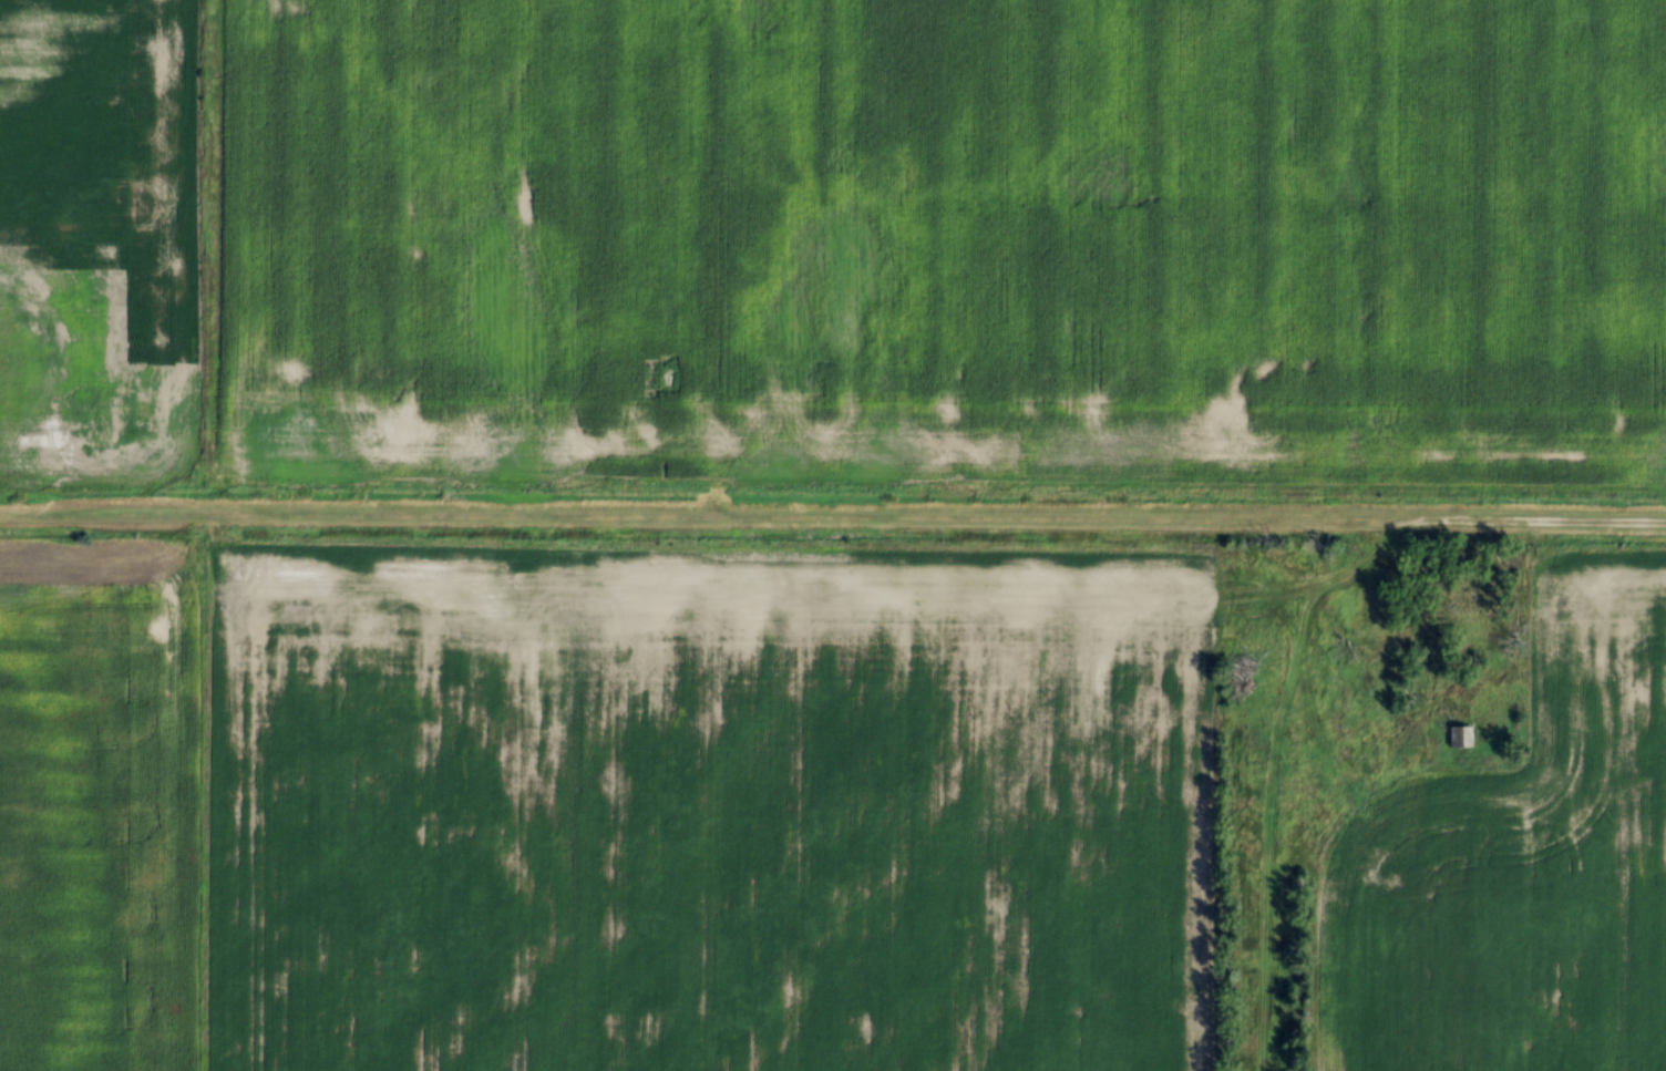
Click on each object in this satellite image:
road: (833, 519)

